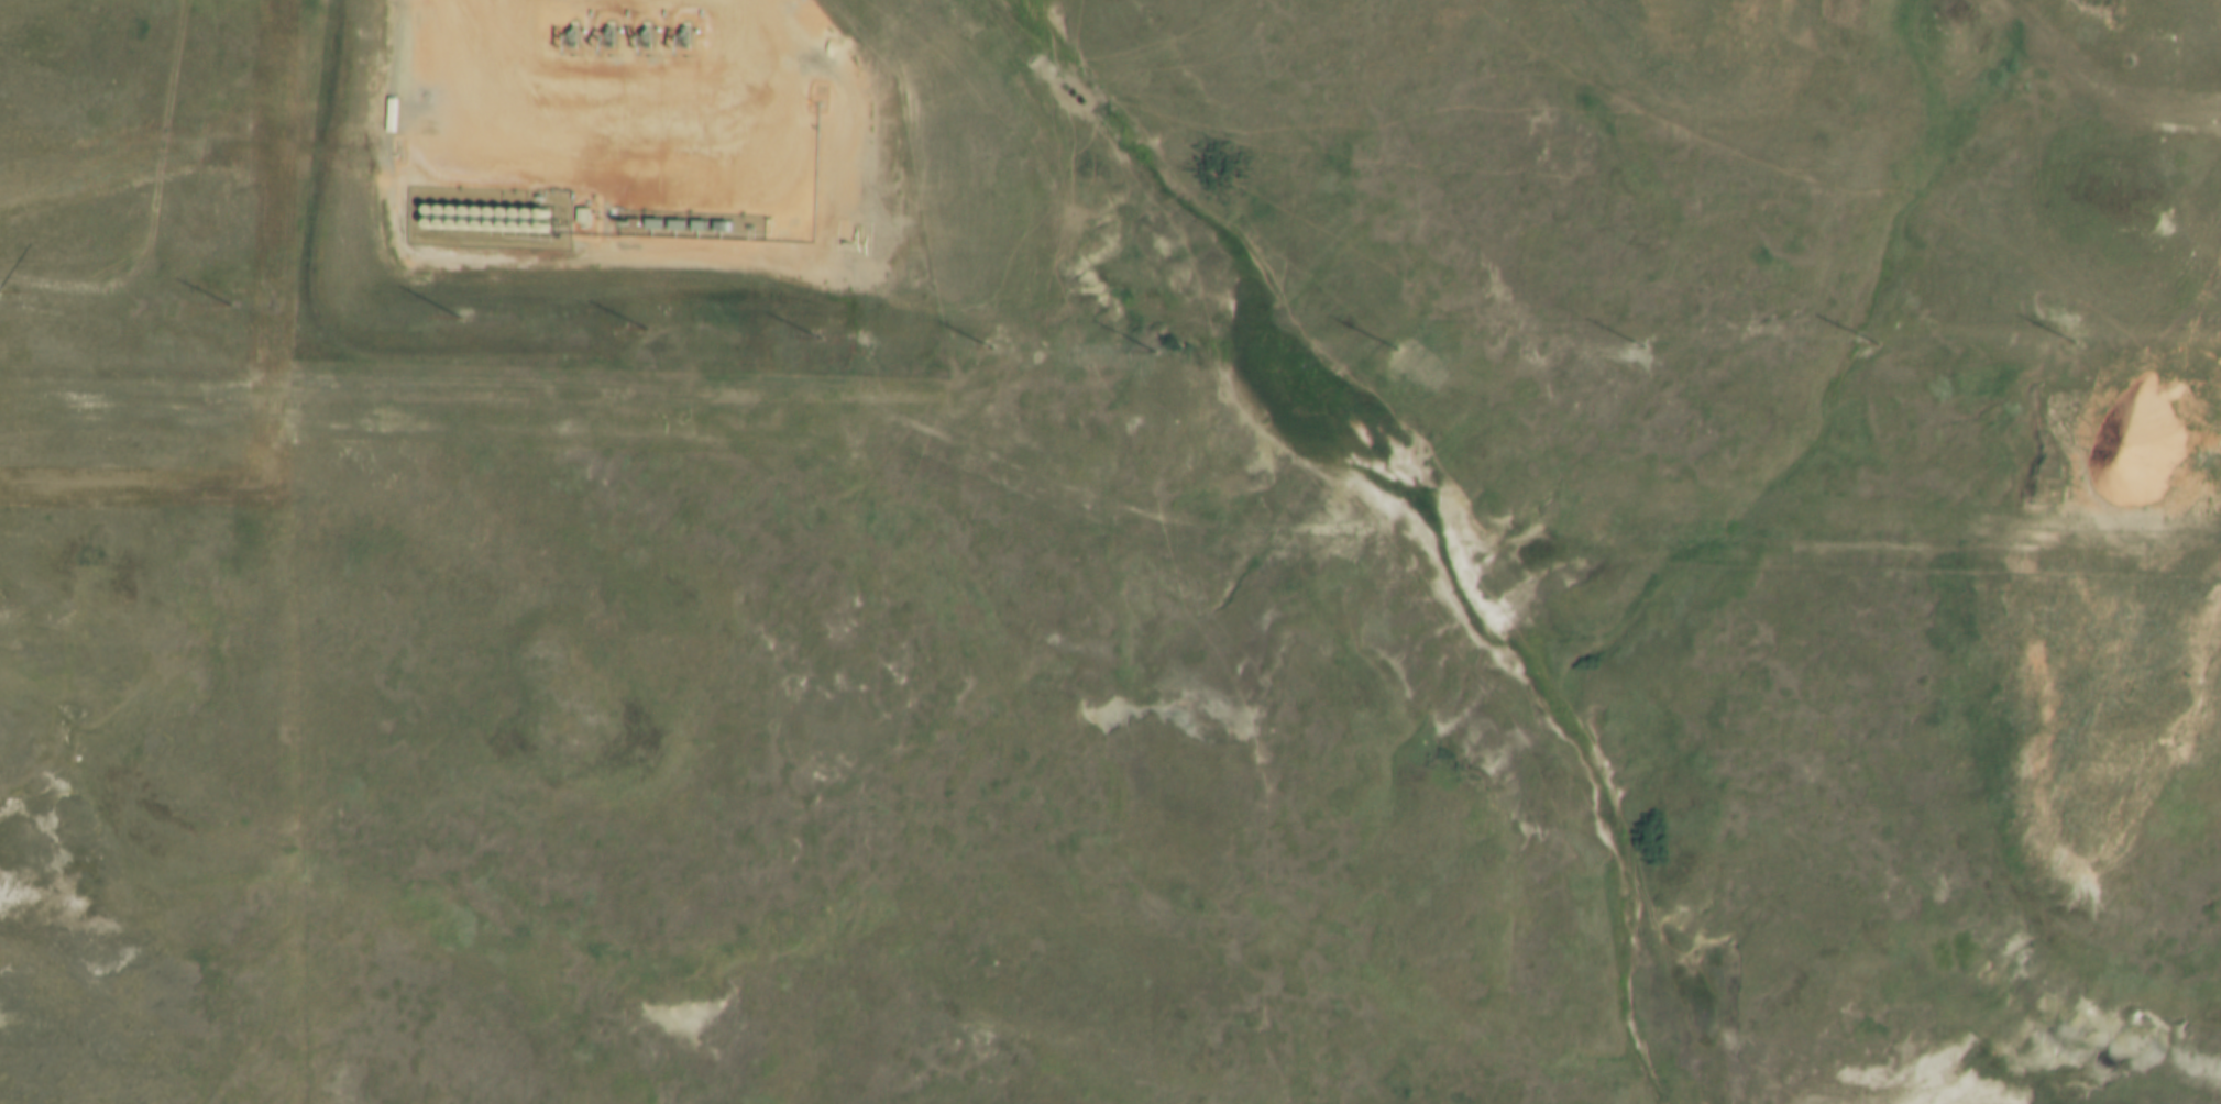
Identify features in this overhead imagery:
quarry: (2108, 610)

